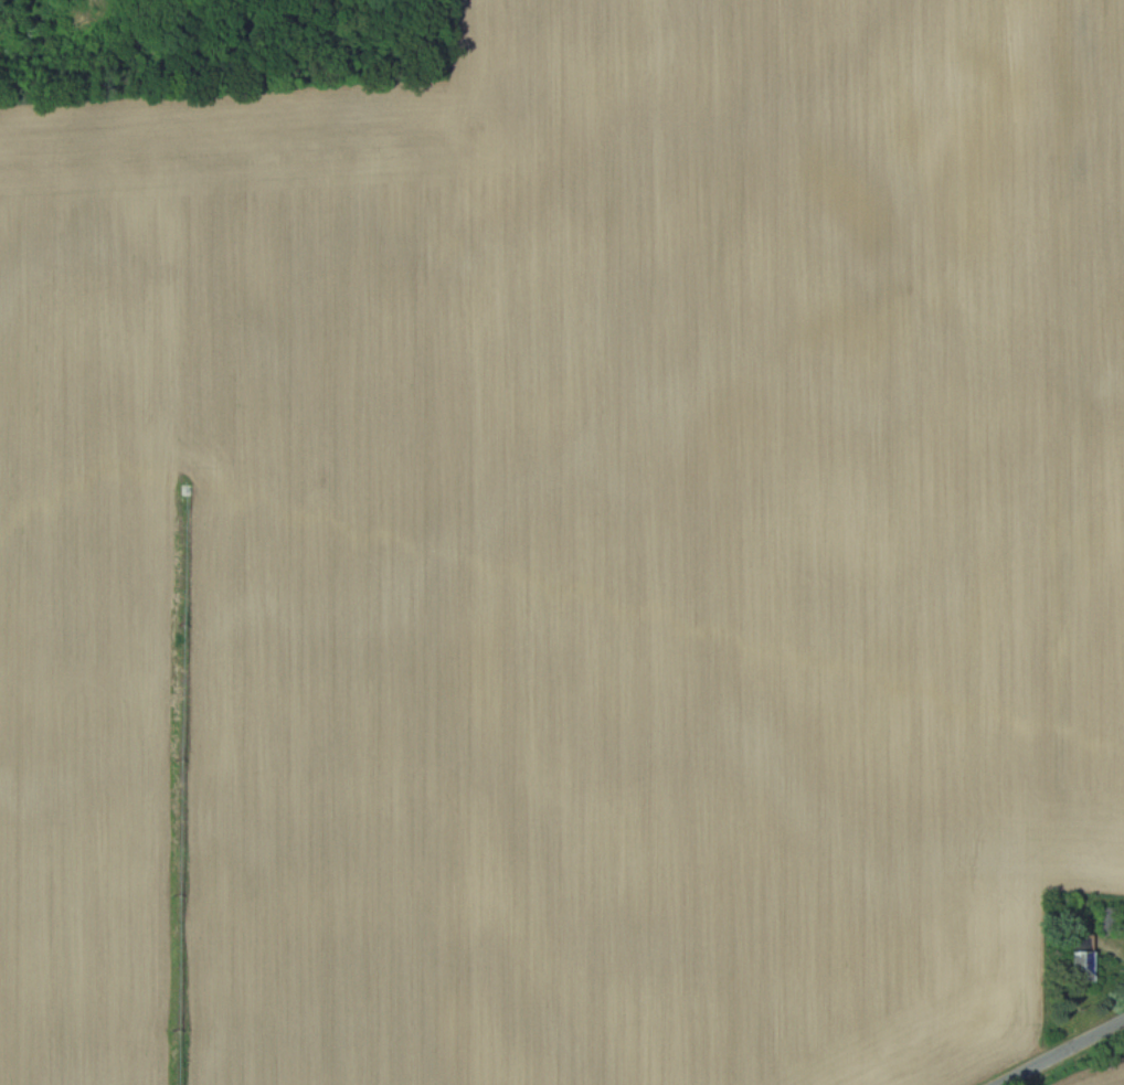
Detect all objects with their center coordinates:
building: (1109, 921)
building: (1083, 957)
road: (1062, 1053)

